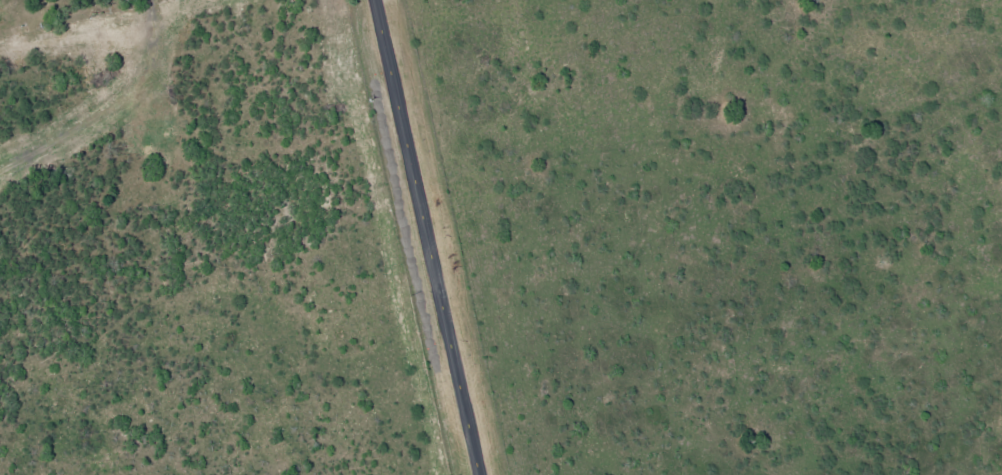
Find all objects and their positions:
road: (426, 237)

